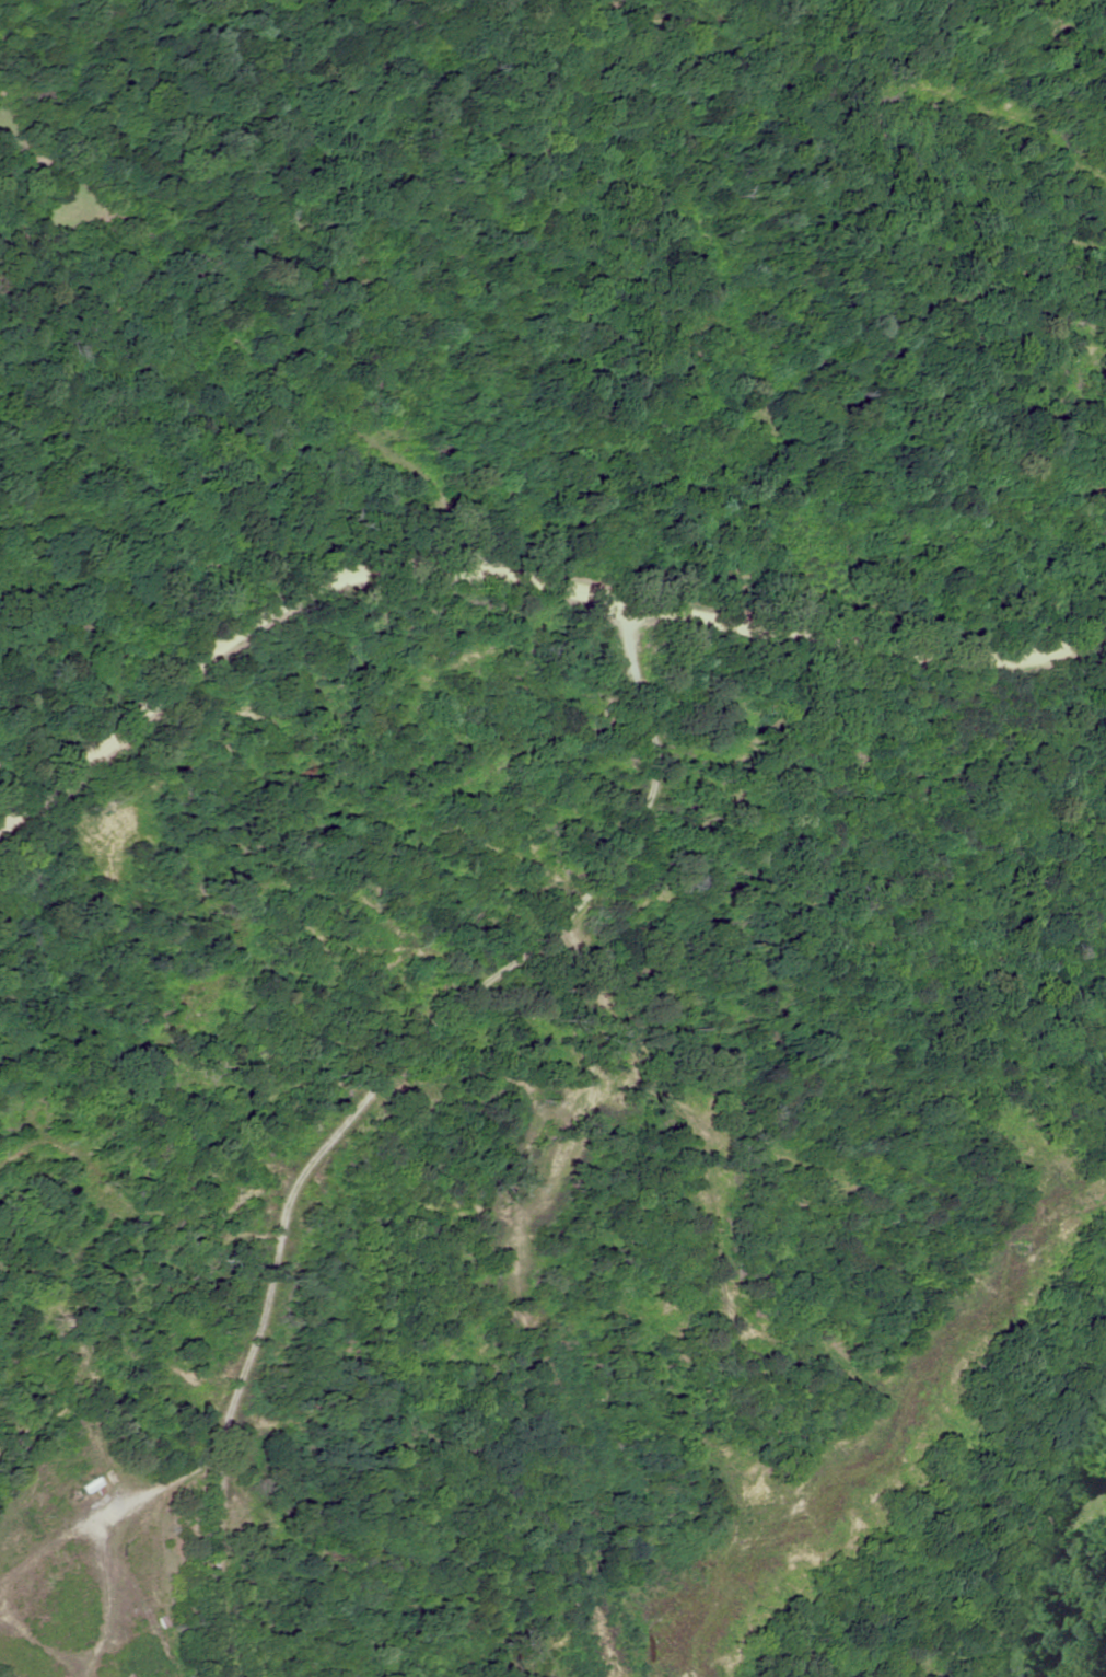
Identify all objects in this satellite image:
road: (522, 536)
road: (424, 1101)
building: (94, 1487)

